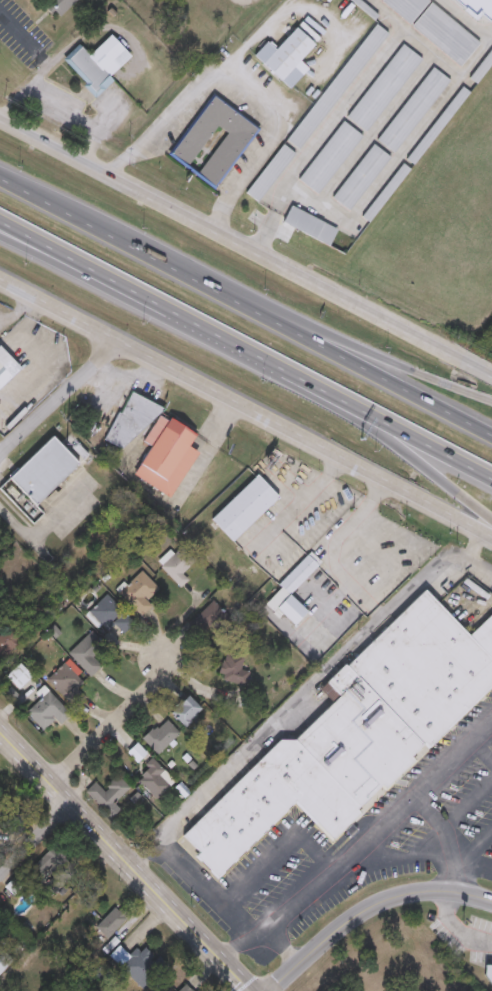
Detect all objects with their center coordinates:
building: (58, 5)
building: (434, 26)
road: (250, 42)
building: (285, 52)
road: (40, 63)
building: (481, 63)
building: (100, 65)
building: (483, 69)
building: (336, 83)
building: (383, 84)
road: (243, 89)
building: (411, 106)
road: (82, 117)
building: (436, 122)
building: (234, 138)
building: (329, 154)
building: (269, 170)
building: (359, 174)
road: (378, 177)
building: (384, 189)
building: (308, 223)
road: (38, 241)
road: (38, 247)
road: (245, 247)
road: (137, 249)
road: (201, 327)
road: (34, 346)
road: (384, 355)
building: (6, 368)
road: (383, 377)
road: (59, 400)
road: (246, 409)
building: (130, 423)
road: (409, 436)
building: (165, 453)
road: (409, 455)
building: (43, 468)
building: (242, 507)
road: (44, 526)
road: (478, 565)
building: (178, 566)
building: (300, 574)
building: (139, 593)
building: (109, 610)
building: (205, 613)
building: (90, 654)
building: (232, 669)
building: (68, 685)
road: (301, 693)
building: (48, 711)
building: (185, 712)
road: (111, 727)
building: (358, 732)
building: (161, 736)
building: (137, 753)
building: (153, 779)
building: (108, 795)
road: (34, 839)
road: (357, 843)
road: (382, 859)
road: (462, 860)
road: (477, 862)
road: (123, 863)
road: (204, 884)
road: (366, 908)
building: (112, 922)
road: (455, 926)
road: (280, 946)
building: (4, 961)
building: (139, 965)
building: (487, 972)
building: (186, 988)

